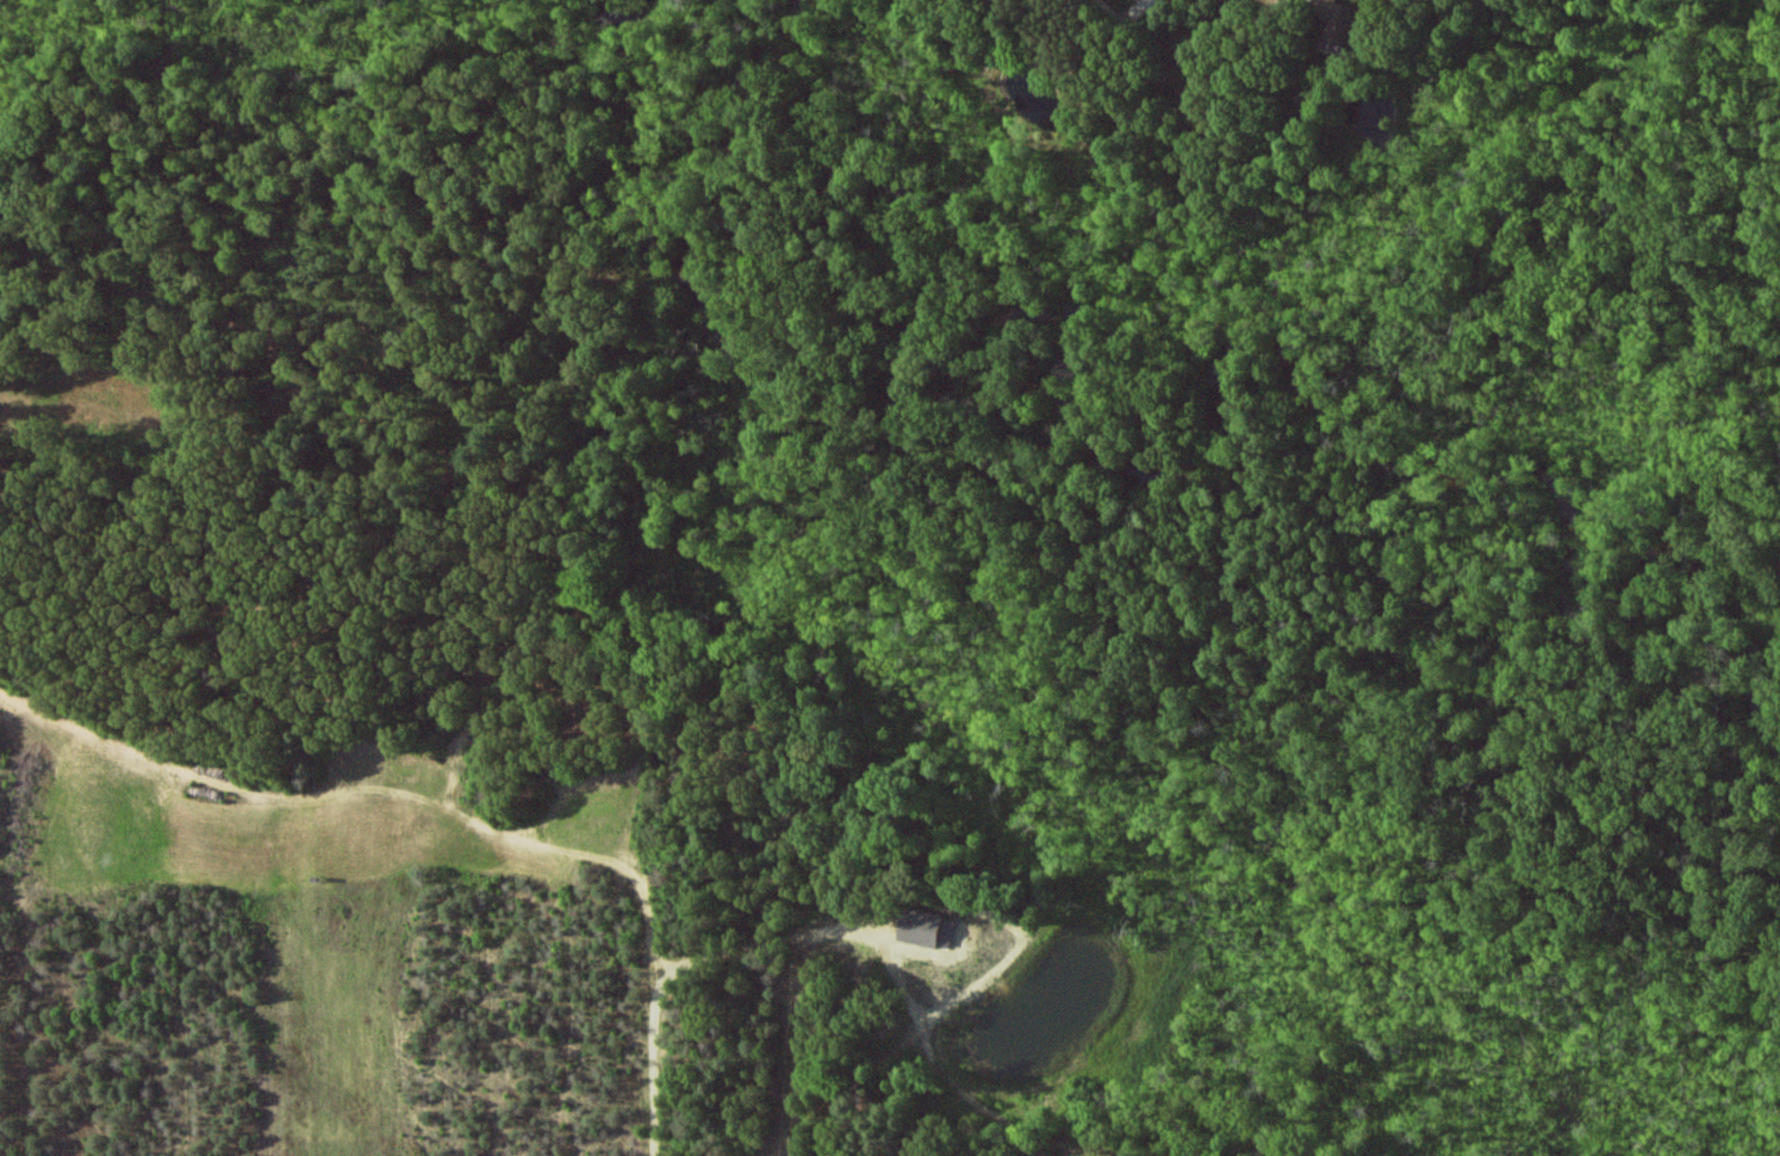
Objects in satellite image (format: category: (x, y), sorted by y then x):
building: (1160, 0)
building: (1334, 20)
building: (926, 928)

